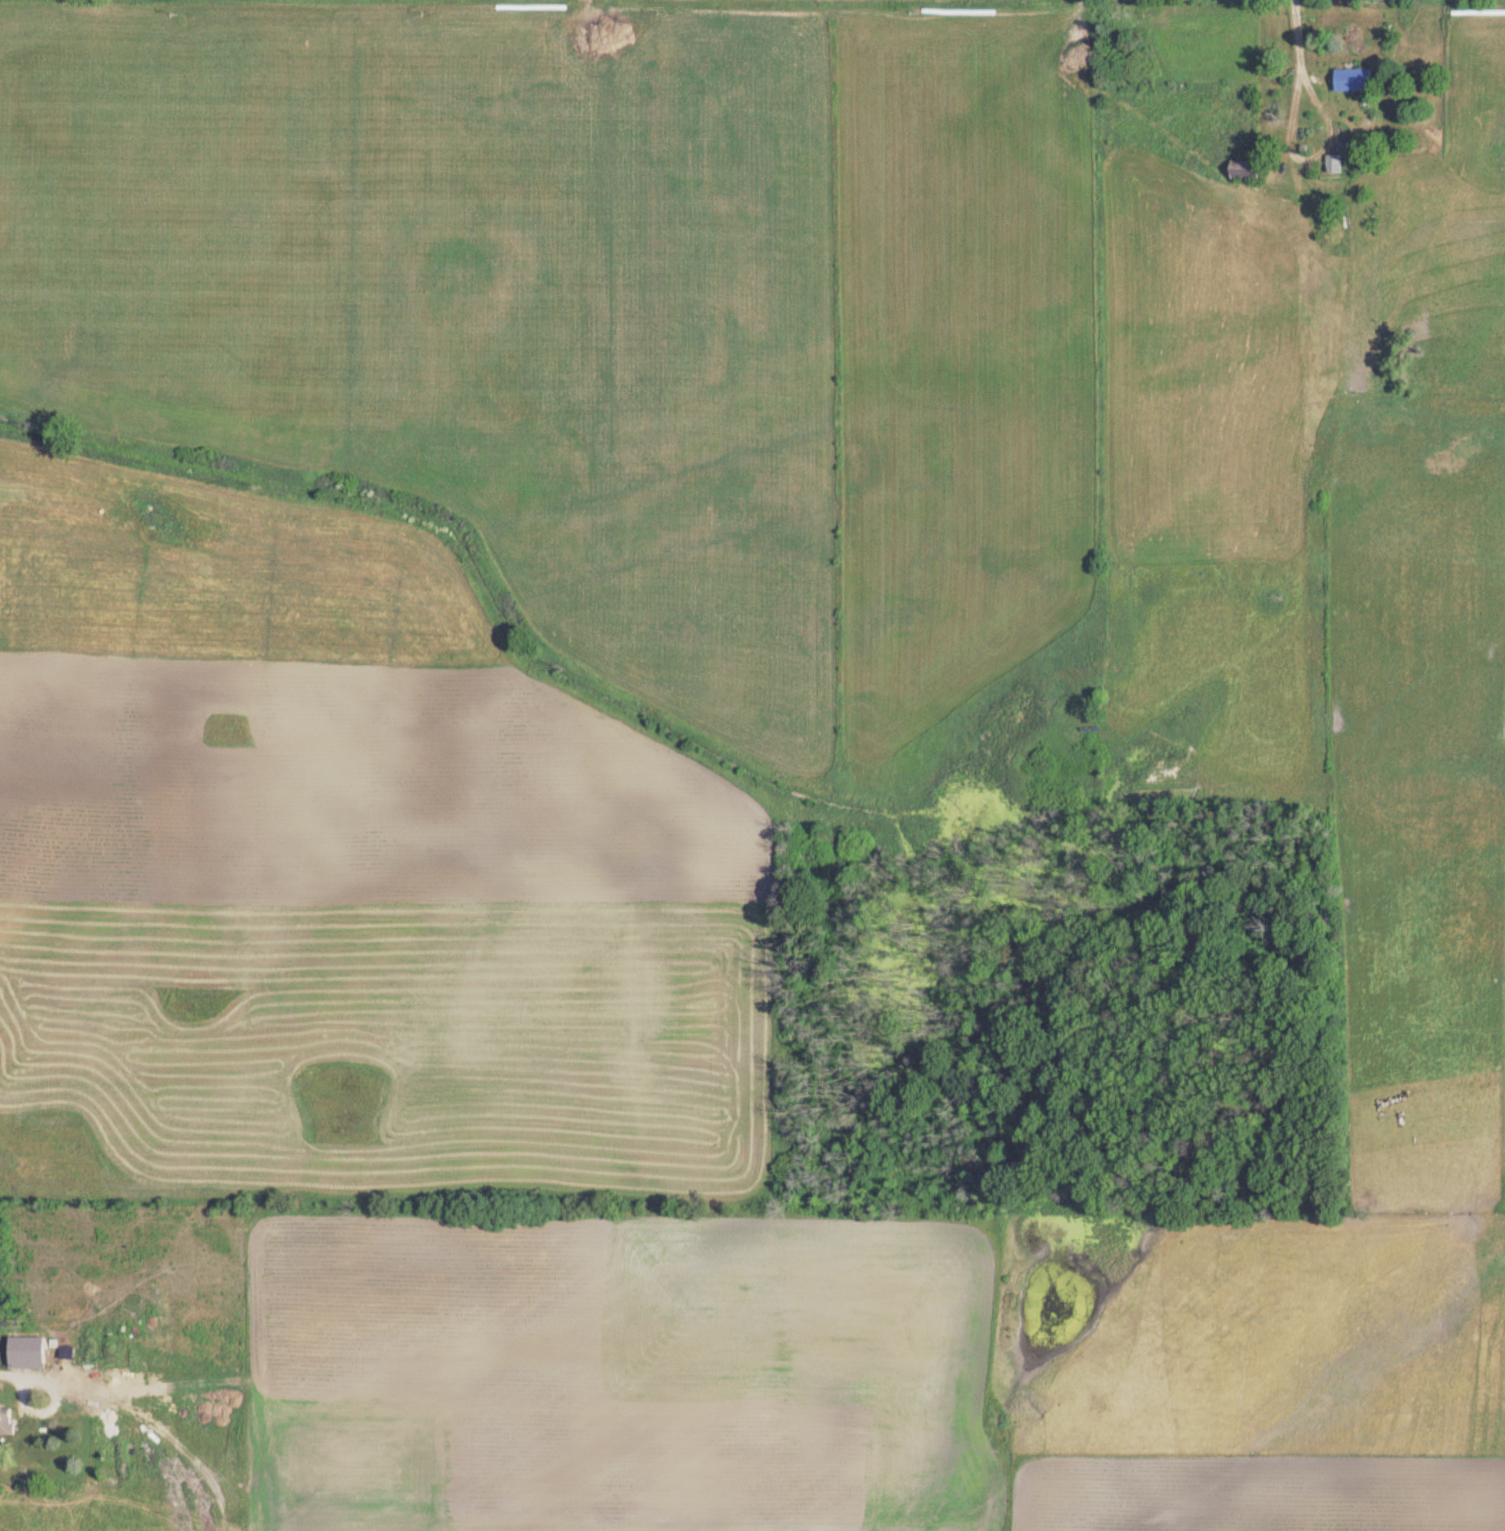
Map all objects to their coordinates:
road: (1301, 36)
building: (1359, 83)
road: (1312, 158)
building: (1337, 167)
building: (1249, 172)
road: (14, 1371)
building: (146, 1411)
building: (9, 1423)

